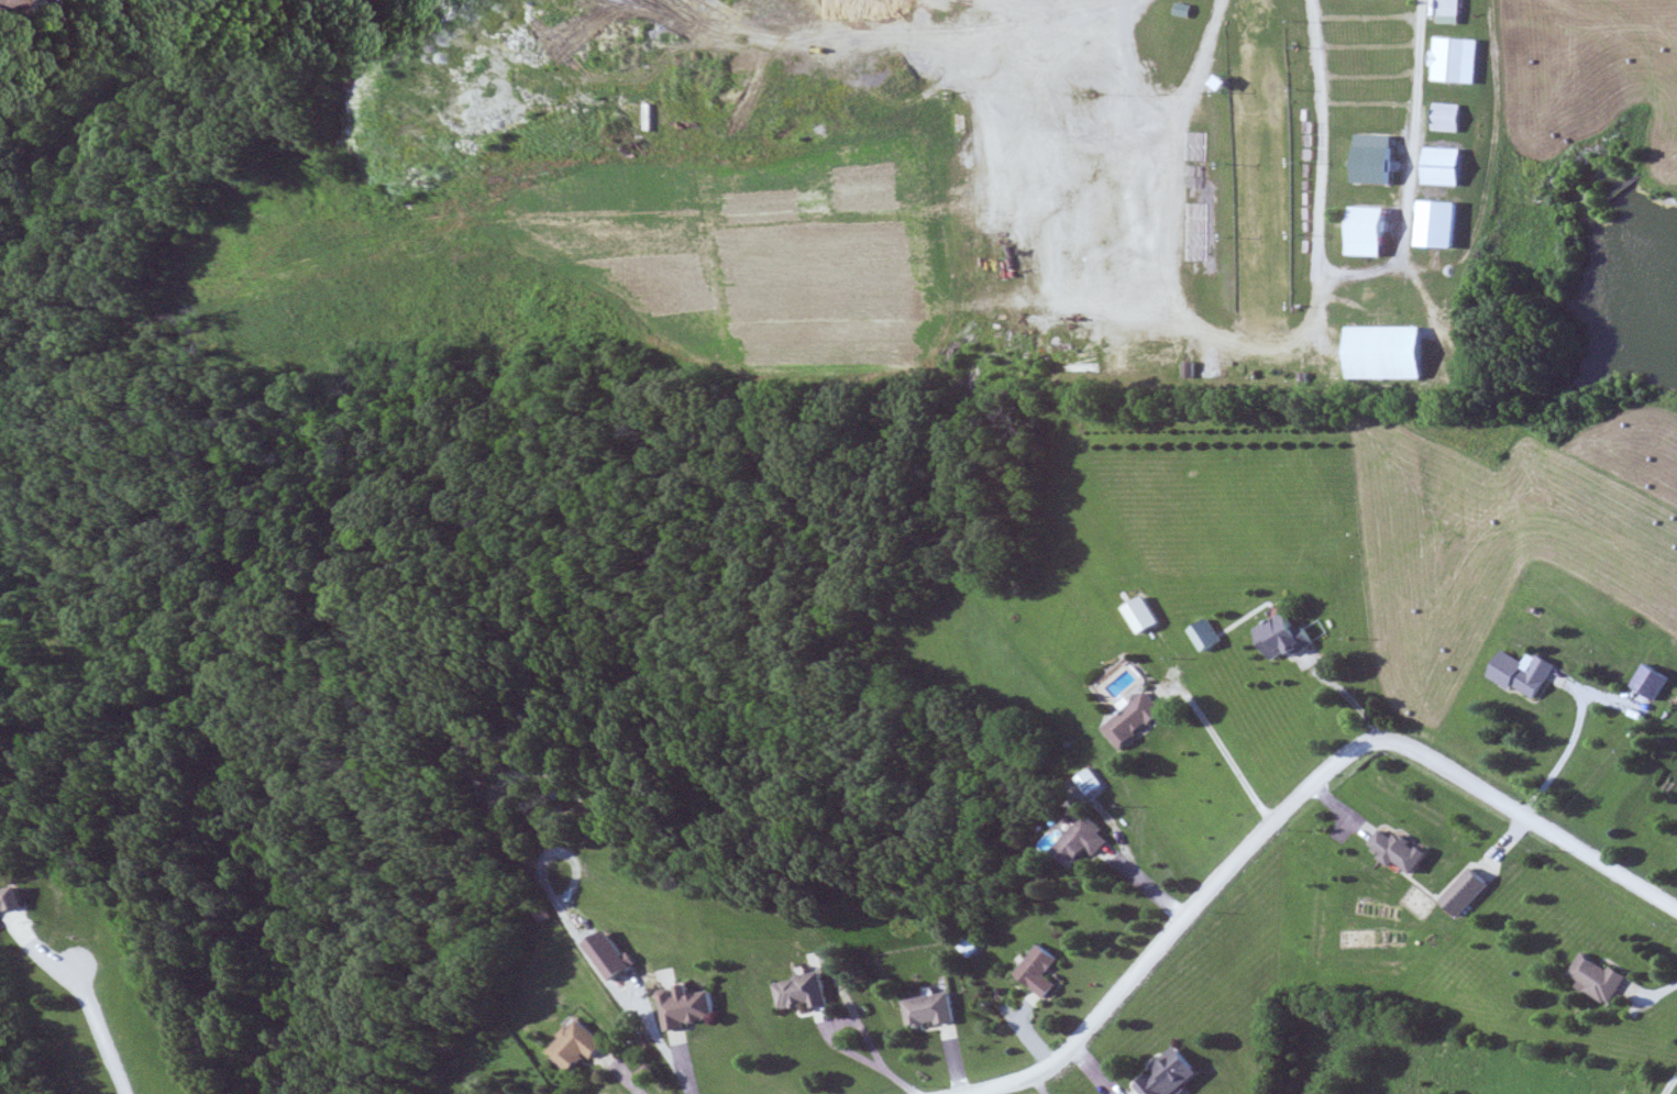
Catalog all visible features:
building: (10, 4)
building: (1453, 12)
building: (1454, 60)
building: (1452, 118)
road: (1315, 168)
building: (1391, 353)
building: (1287, 637)
building: (1527, 675)
building: (1654, 683)
building: (1137, 721)
road: (1566, 750)
road: (1231, 756)
building: (1094, 783)
road: (1290, 804)
building: (1089, 844)
building: (1403, 852)
building: (1468, 893)
building: (1046, 972)
building: (1601, 980)
building: (809, 994)
building: (692, 1008)
road: (97, 1009)
building: (937, 1012)
road: (836, 1023)
building: (585, 1048)
building: (1172, 1074)
road: (906, 1083)
road: (1670, 1084)

